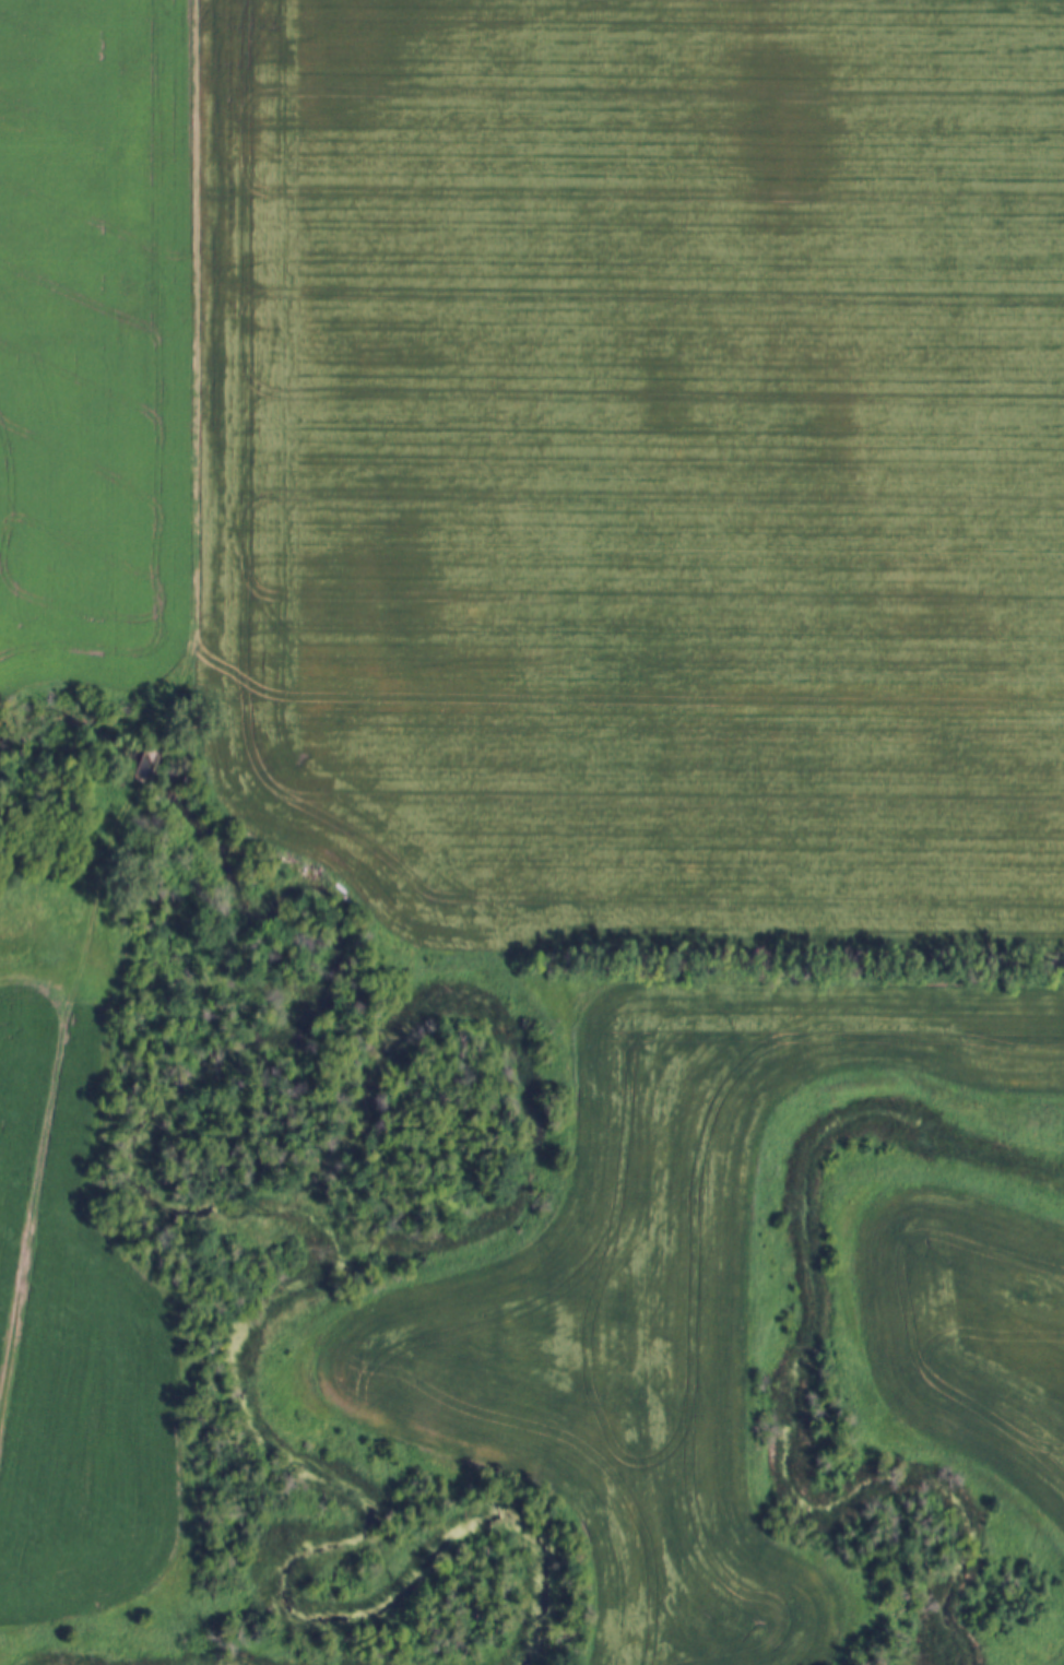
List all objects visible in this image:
road: (205, 383)
road: (140, 772)
road: (55, 1118)

